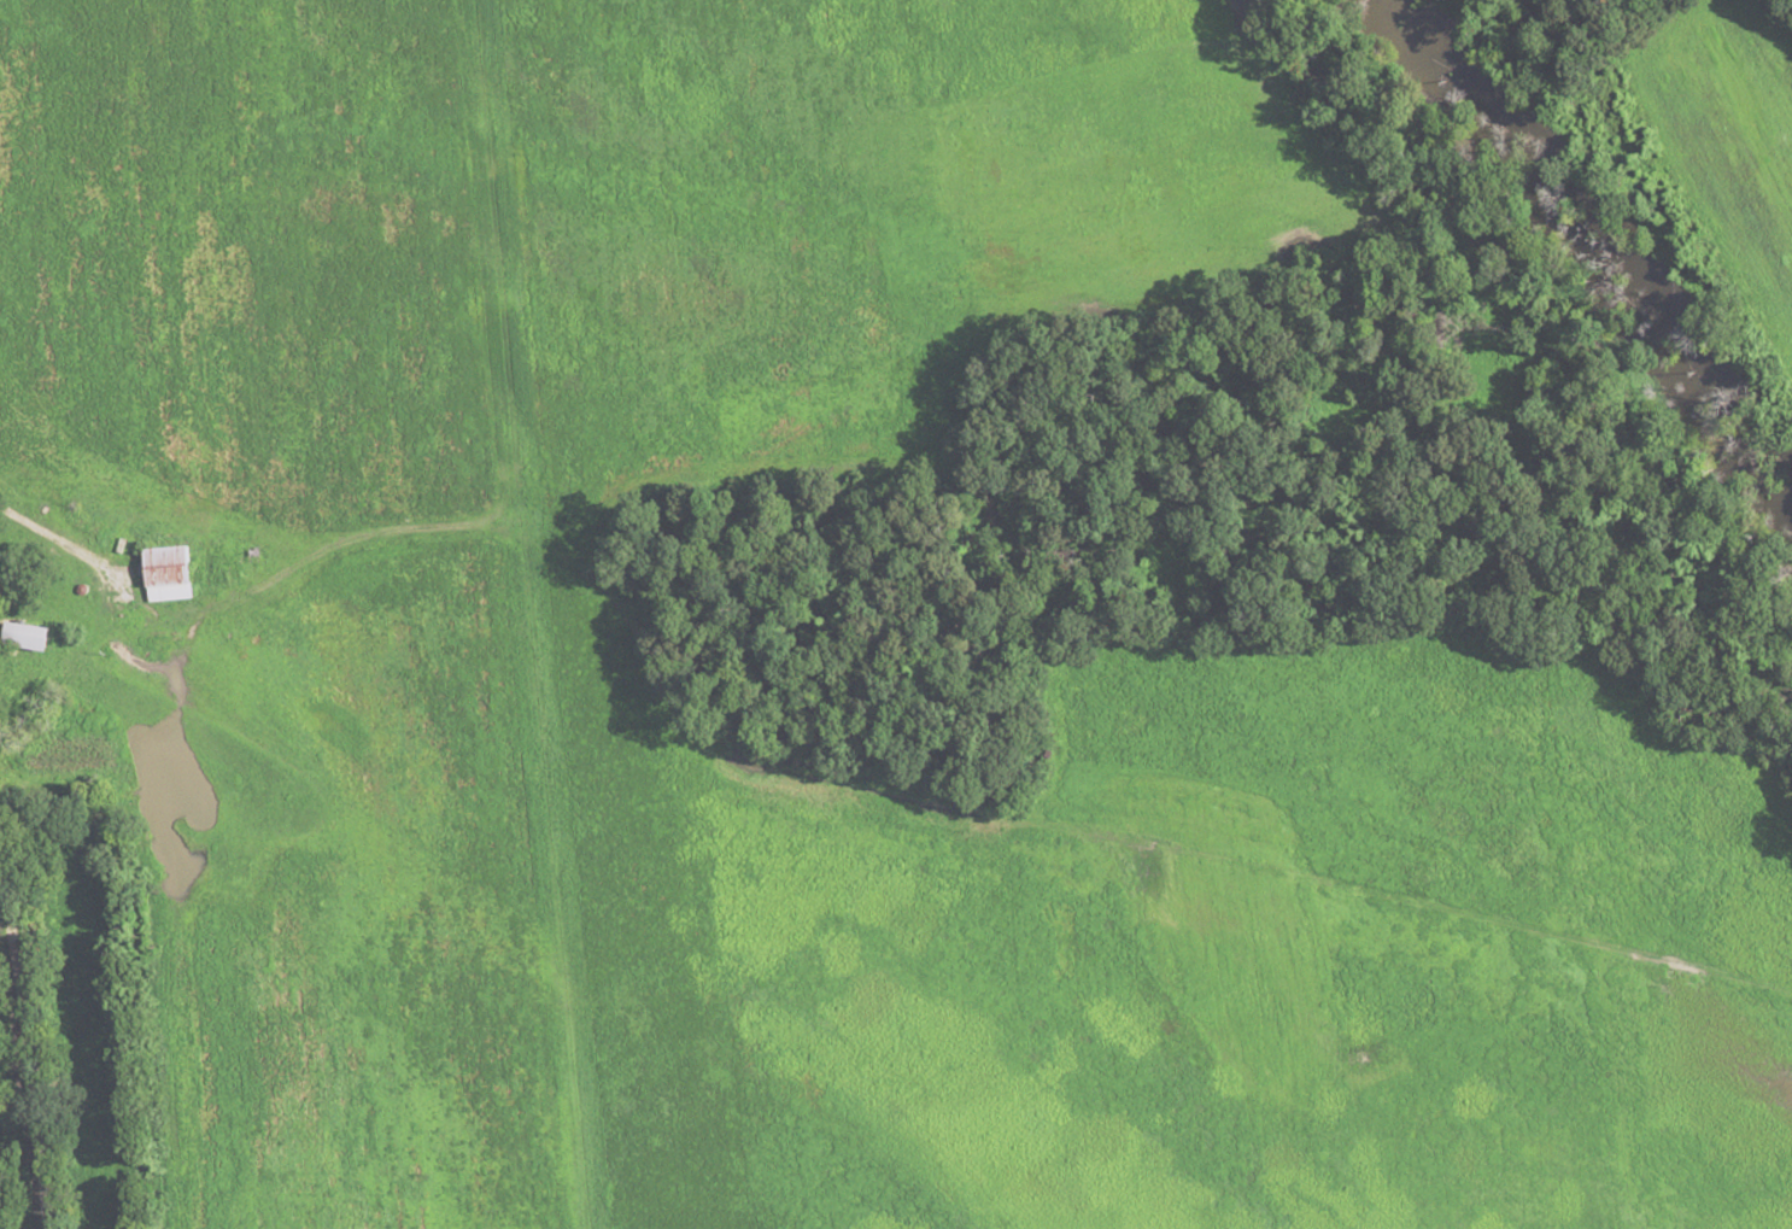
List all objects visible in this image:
crop: (1734, 130)
building: (169, 573)
building: (81, 577)
crop: (457, 601)
road: (247, 603)
building: (31, 636)
road: (30, 1057)

